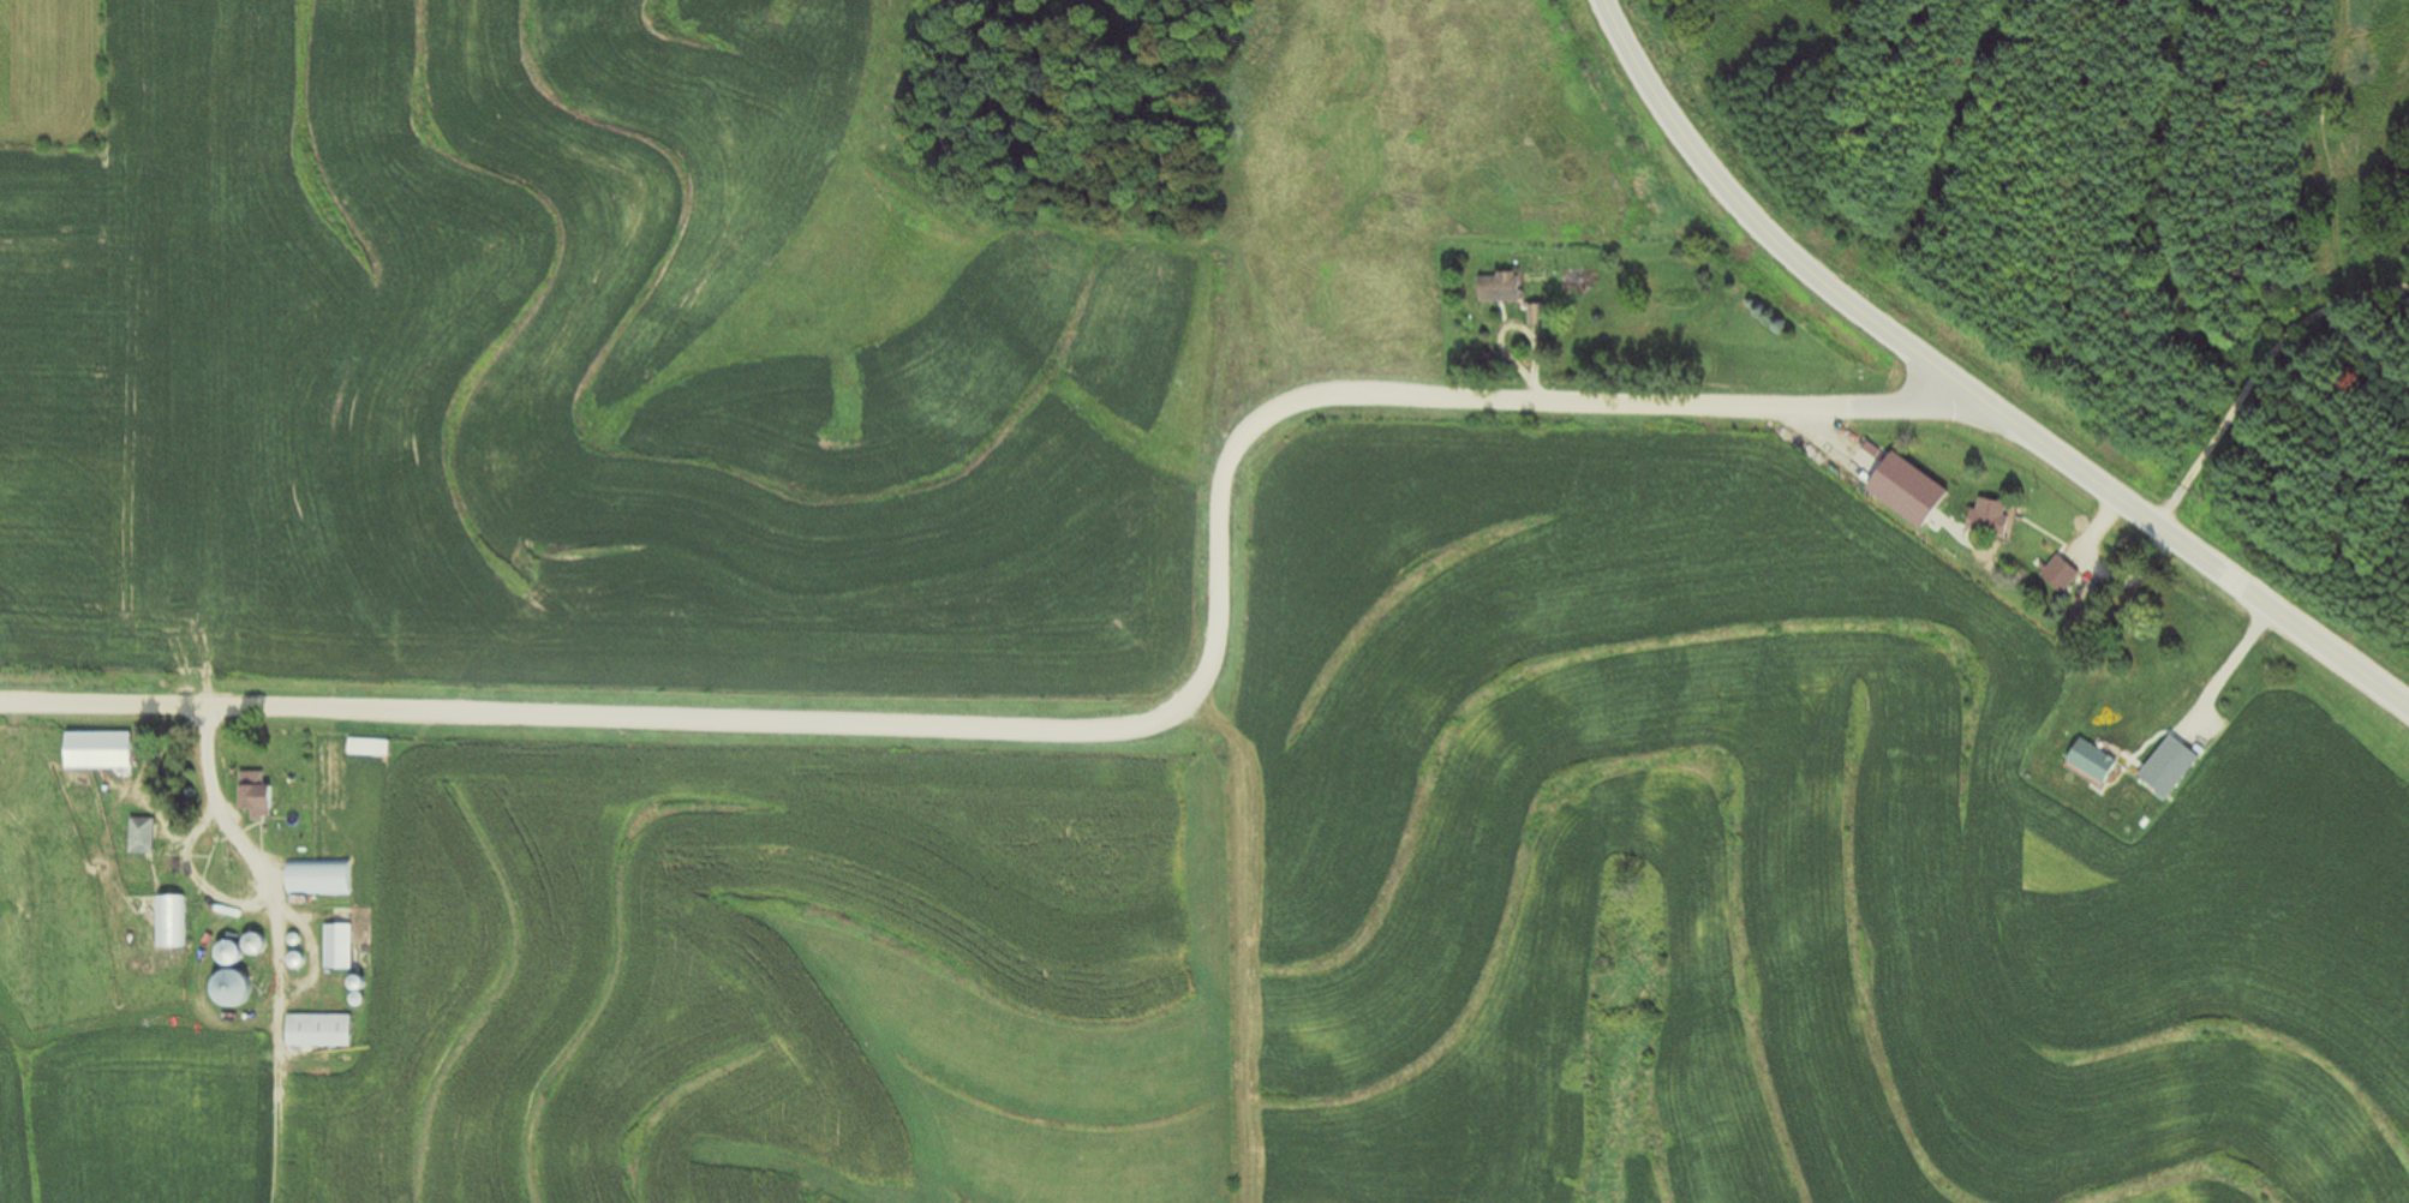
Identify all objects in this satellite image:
building: (1495, 289)
building: (1534, 317)
road: (1963, 395)
building: (1983, 519)
building: (2055, 575)
road: (2228, 656)
road: (1114, 731)
building: (364, 749)
building: (92, 753)
building: (2088, 764)
building: (2165, 768)
building: (251, 798)
building: (138, 838)
building: (315, 880)
building: (167, 923)
building: (334, 948)
building: (223, 989)
building: (315, 1031)

